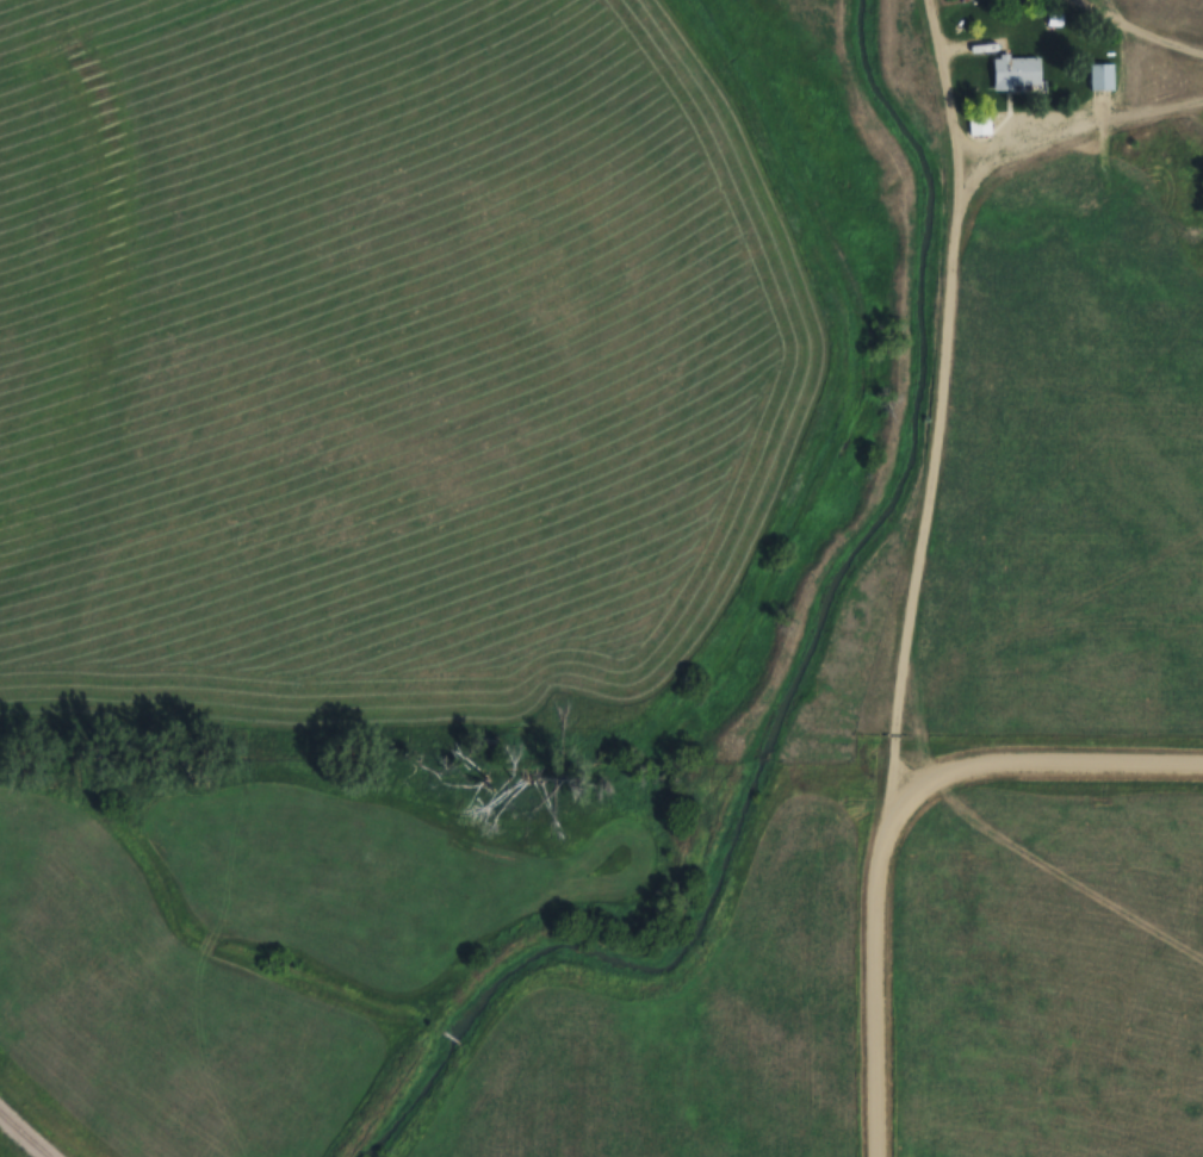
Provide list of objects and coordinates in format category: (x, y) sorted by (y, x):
road: (1139, 30)
building: (1015, 73)
building: (1102, 76)
road: (1071, 127)
road: (943, 402)
road: (889, 821)
road: (1065, 877)
railway: (24, 1136)

